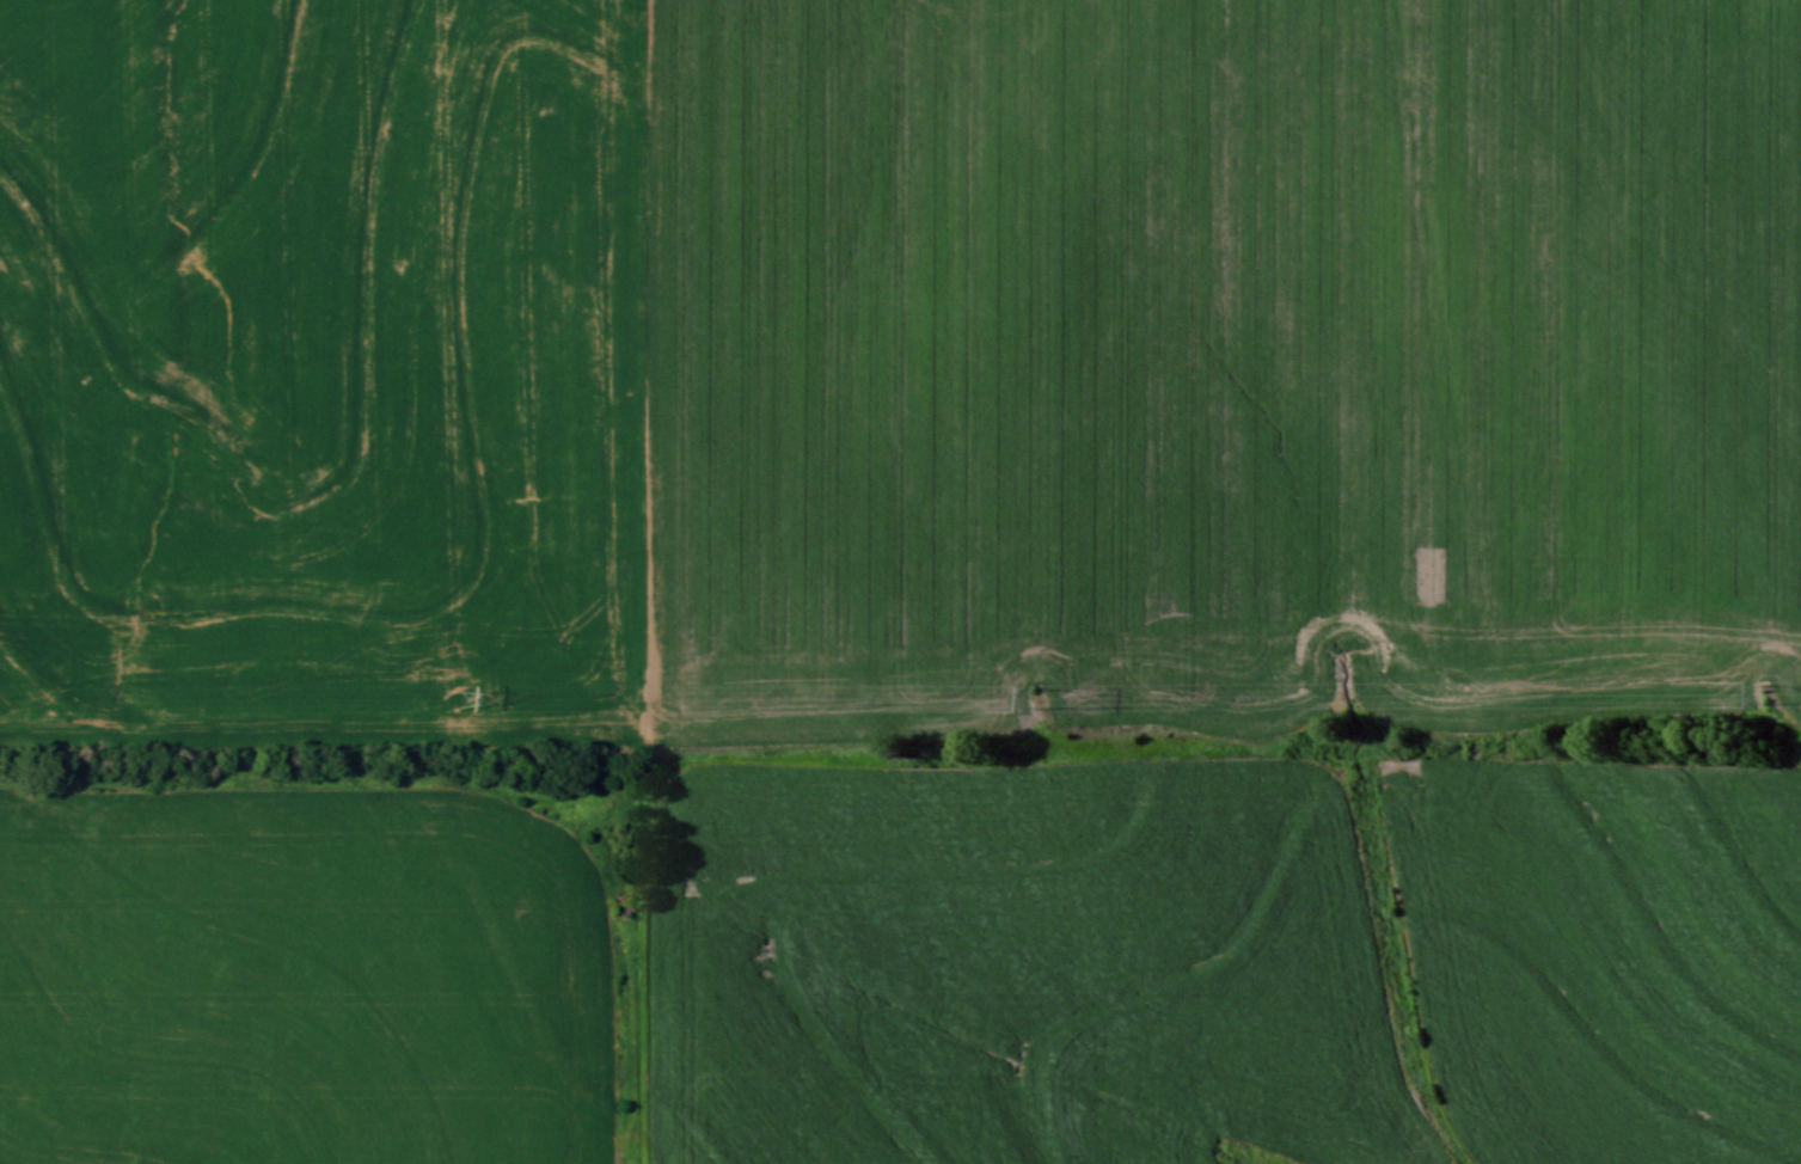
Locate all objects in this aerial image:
power tower: (1760, 690)
power tower: (1030, 694)
power tower: (452, 698)

